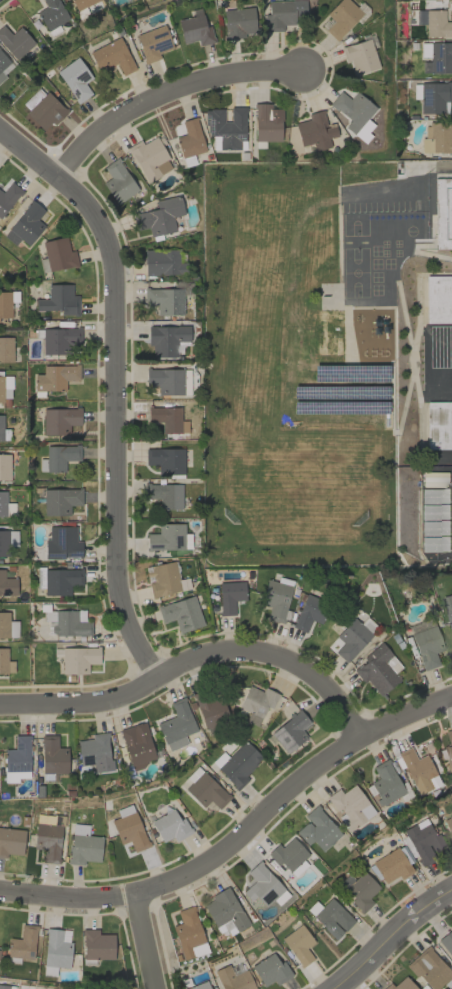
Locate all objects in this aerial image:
building: (83, 3)
building: (282, 14)
building: (52, 16)
building: (340, 18)
building: (238, 22)
building: (437, 24)
building: (194, 30)
building: (15, 41)
building: (152, 43)
building: (360, 56)
building: (111, 57)
building: (436, 57)
building: (4, 65)
building: (75, 79)
road: (164, 94)
building: (431, 97)
building: (42, 109)
building: (352, 110)
building: (267, 123)
building: (226, 126)
building: (315, 131)
building: (437, 138)
building: (190, 139)
building: (150, 159)
road: (419, 167)
building: (118, 181)
building: (8, 197)
building: (443, 213)
building: (159, 217)
building: (25, 225)
building: (56, 255)
building: (162, 262)
building: (438, 299)
building: (59, 300)
building: (164, 300)
building: (5, 304)
building: (59, 340)
building: (6, 349)
building: (55, 377)
building: (165, 381)
building: (5, 388)
road: (114, 389)
building: (164, 419)
building: (59, 420)
building: (439, 425)
building: (1, 428)
building: (58, 458)
building: (165, 460)
building: (4, 467)
building: (165, 495)
building: (435, 496)
building: (60, 501)
building: (2, 503)
building: (435, 512)
building: (435, 528)
building: (12, 537)
building: (169, 538)
building: (3, 543)
building: (63, 544)
building: (435, 544)
building: (39, 577)
building: (162, 579)
building: (60, 581)
building: (7, 585)
building: (230, 597)
building: (276, 600)
building: (449, 608)
building: (309, 613)
building: (181, 614)
building: (67, 622)
building: (7, 626)
building: (420, 626)
building: (351, 639)
building: (427, 647)
building: (78, 660)
road: (191, 660)
building: (5, 662)
building: (378, 669)
building: (256, 703)
building: (211, 709)
building: (176, 725)
building: (291, 732)
building: (137, 744)
building: (93, 750)
building: (448, 751)
building: (52, 756)
building: (17, 760)
building: (237, 764)
building: (451, 770)
building: (418, 771)
building: (385, 783)
building: (204, 789)
building: (350, 807)
building: (451, 810)
building: (170, 827)
building: (449, 827)
building: (317, 829)
building: (129, 831)
road: (239, 831)
building: (49, 838)
building: (423, 840)
building: (11, 842)
building: (83, 846)
building: (287, 854)
building: (391, 865)
building: (261, 885)
building: (359, 890)
building: (224, 909)
building: (330, 917)
building: (188, 934)
road: (389, 935)
road: (144, 939)
building: (447, 942)
building: (22, 945)
building: (97, 945)
building: (298, 945)
building: (56, 948)
building: (270, 970)
building: (431, 970)
building: (232, 979)
building: (401, 985)
building: (200, 986)
building: (4, 987)

